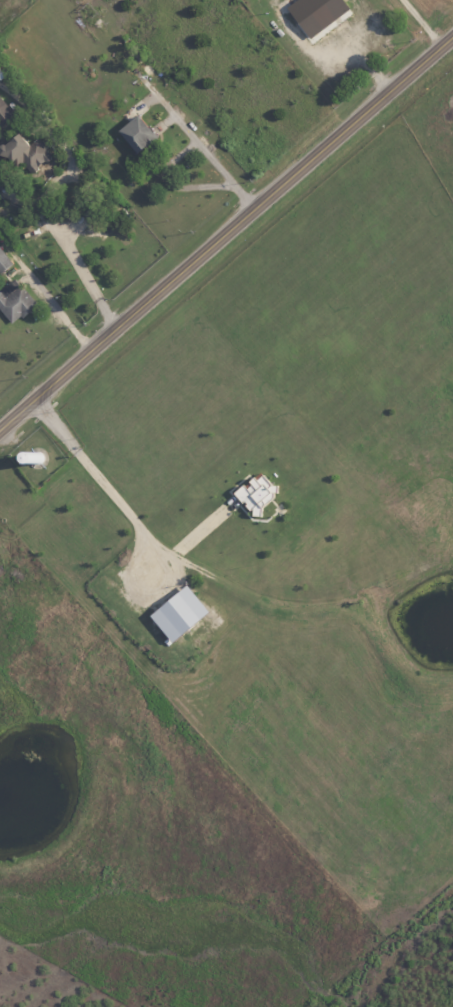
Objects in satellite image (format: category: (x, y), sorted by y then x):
building: (315, 13)
road: (419, 24)
building: (4, 110)
building: (136, 132)
road: (195, 142)
building: (23, 151)
road: (226, 234)
road: (73, 251)
building: (3, 261)
building: (14, 300)
road: (59, 314)
storage tank: (35, 458)
road: (100, 480)
building: (256, 492)
road: (200, 529)
building: (178, 613)

